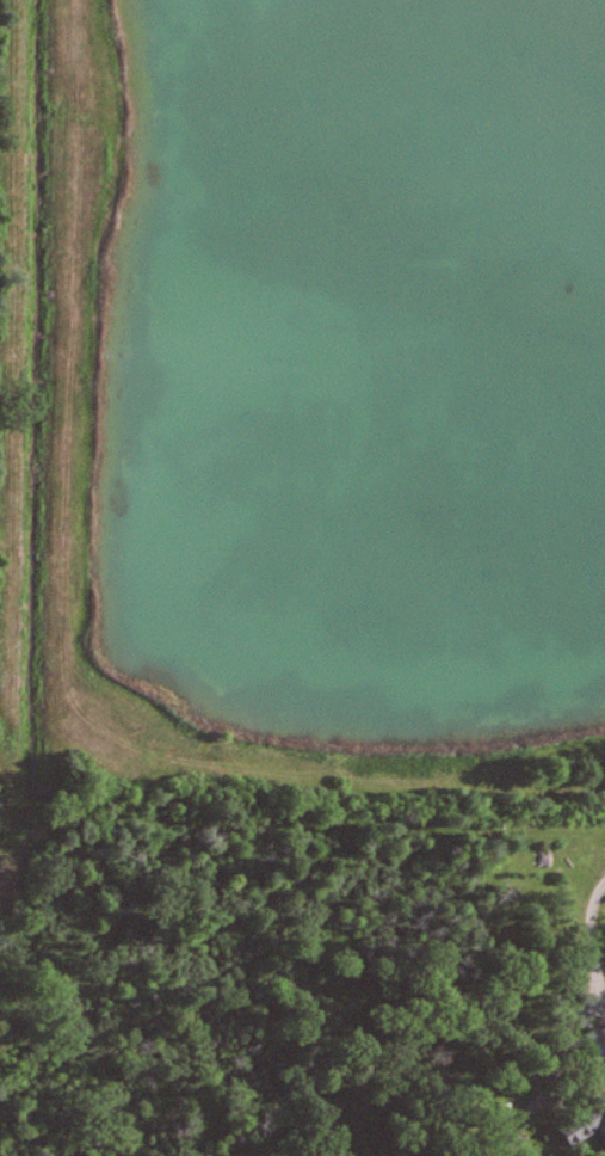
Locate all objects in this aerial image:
building: (585, 1121)

